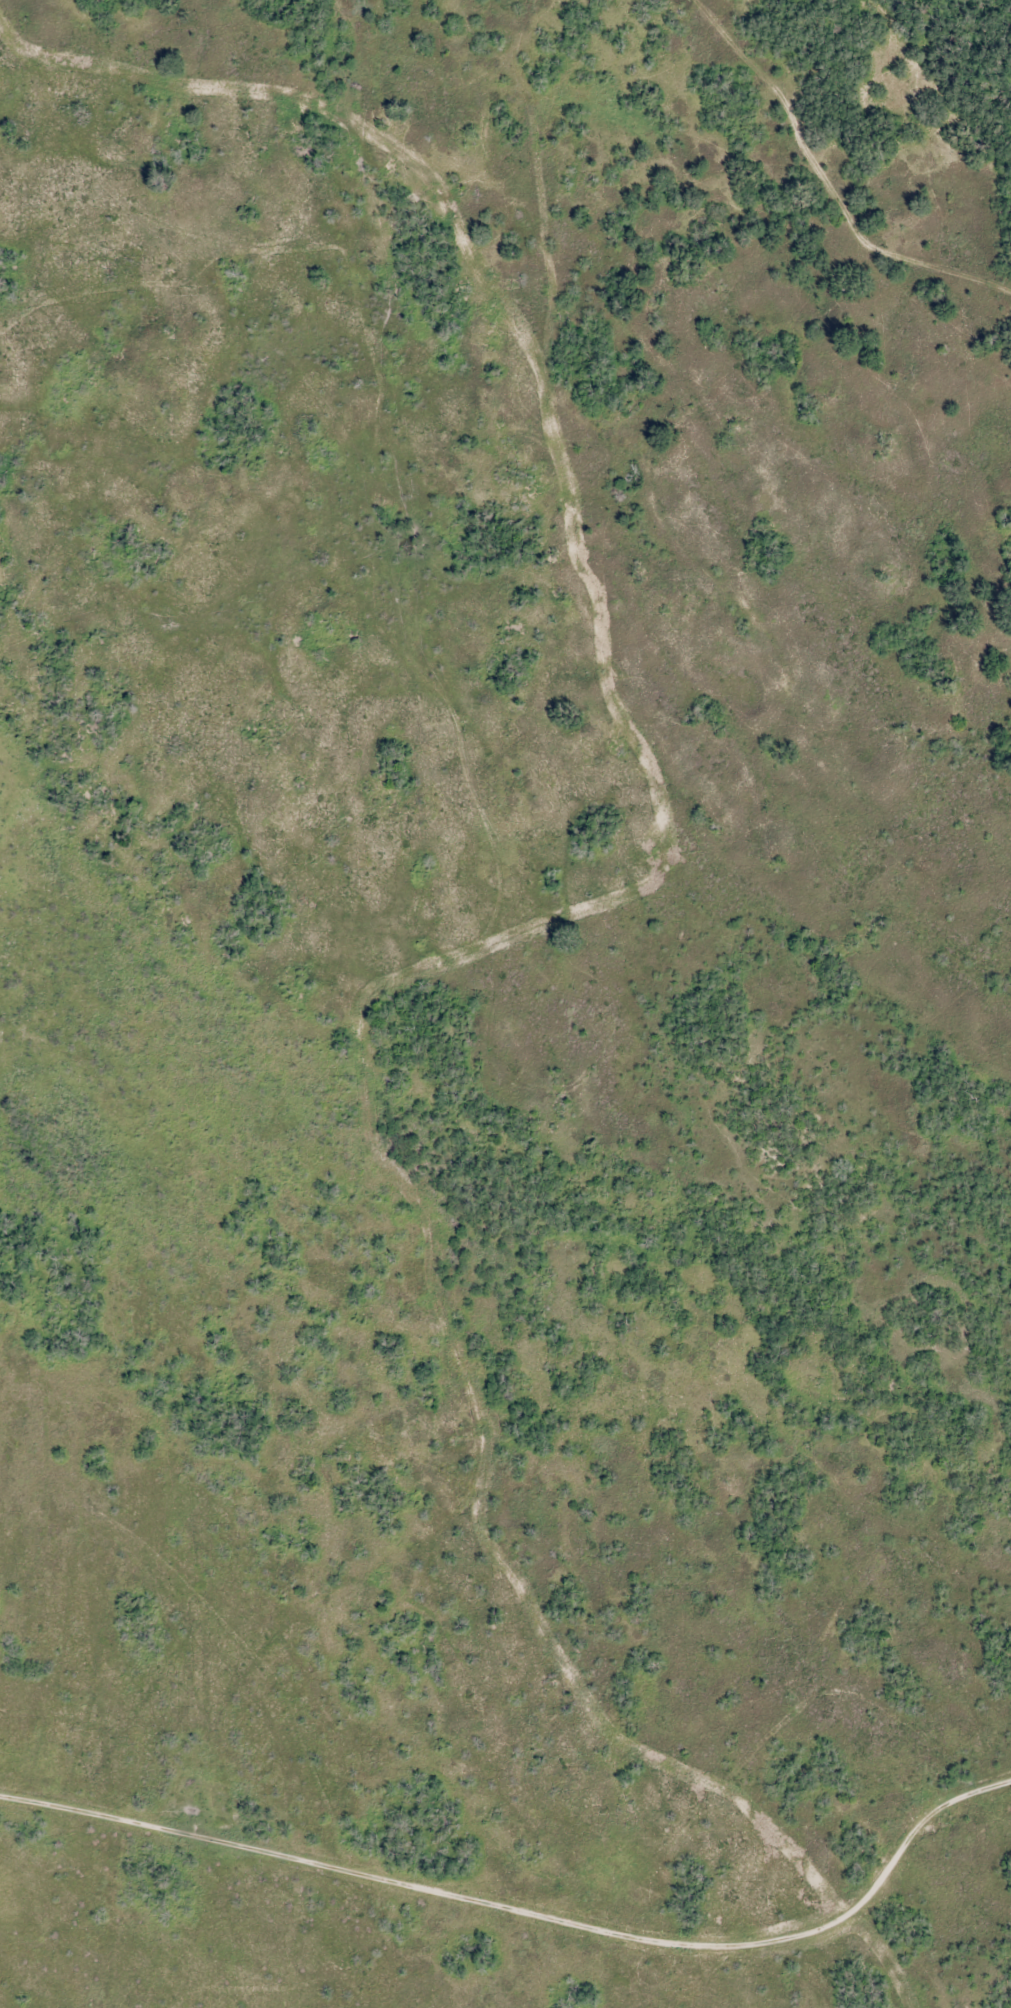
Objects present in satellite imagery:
road: (547, 1907)

